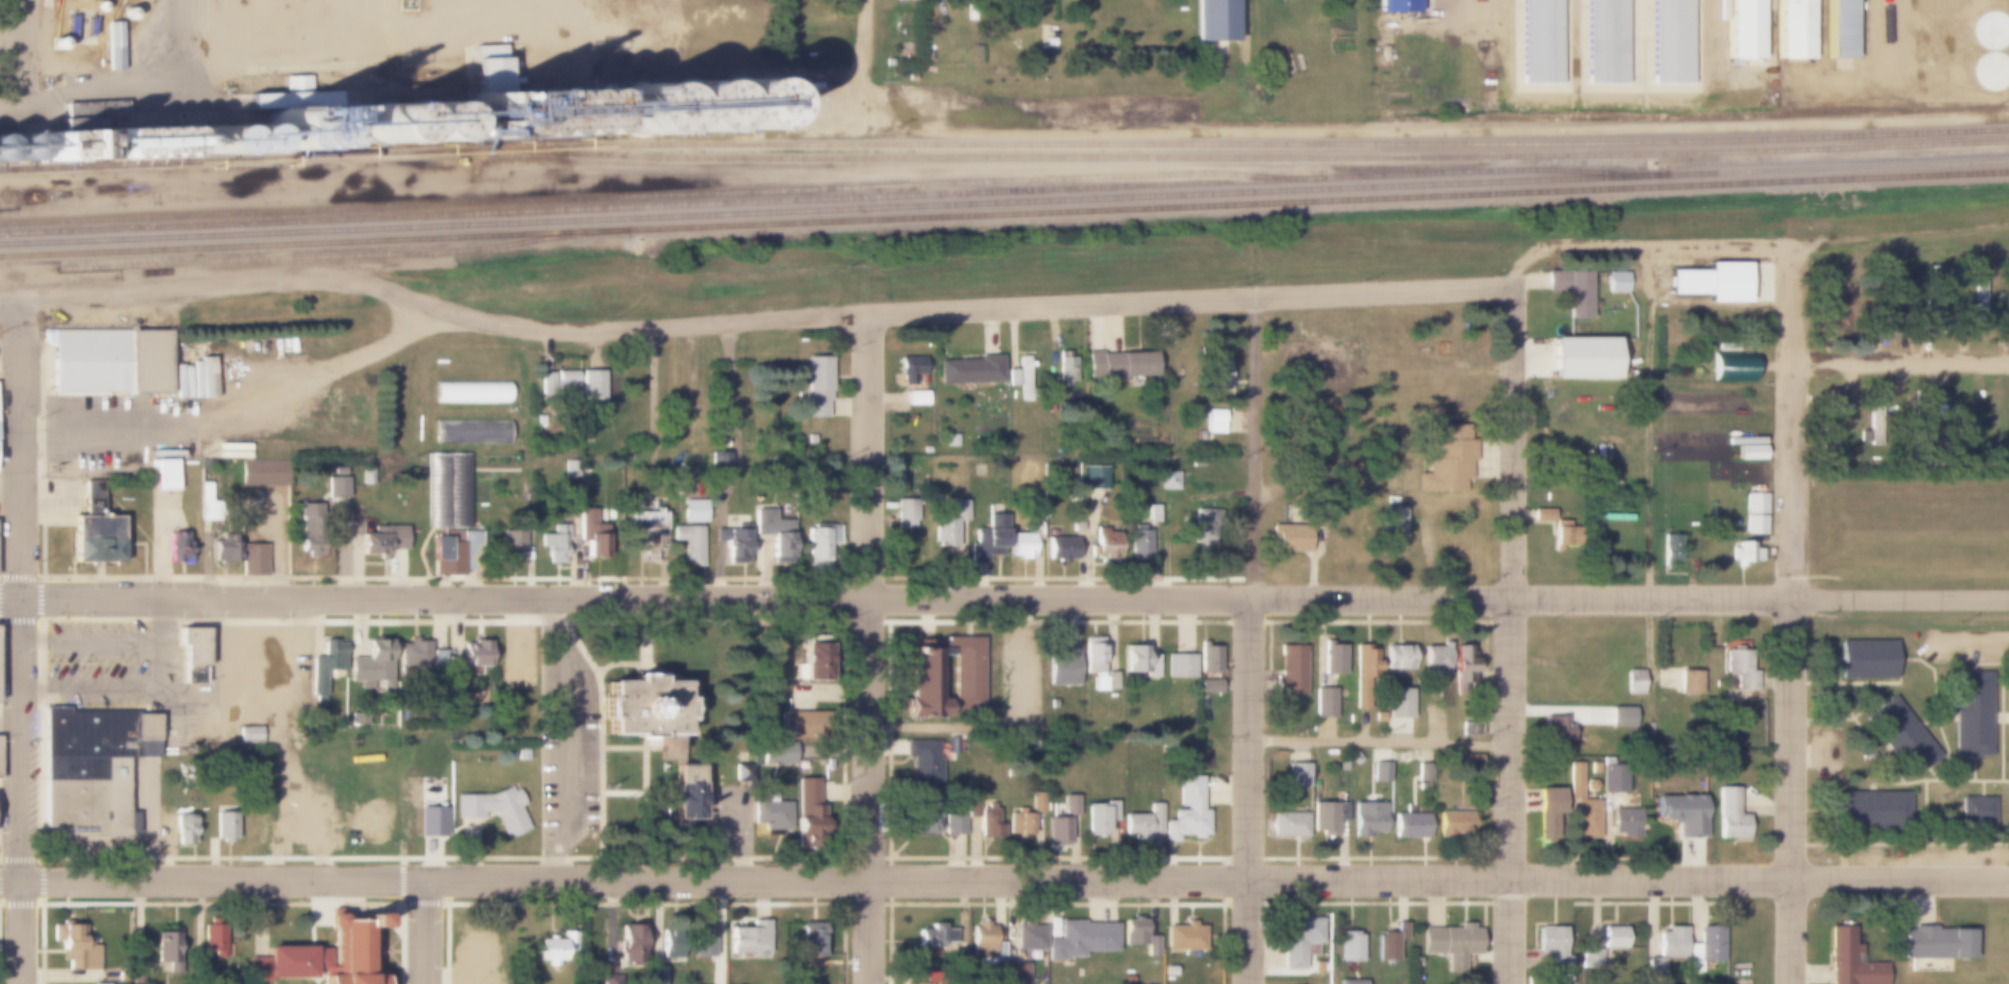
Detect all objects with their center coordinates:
building: (907, 0)
building: (98, 6)
silo: (98, 6)
building: (1396, 6)
building: (125, 14)
silo: (125, 14)
building: (1212, 21)
building: (1749, 29)
building: (1798, 29)
building: (1843, 29)
road: (866, 34)
road: (528, 38)
building: (1540, 41)
building: (1605, 41)
building: (1670, 41)
building: (54, 43)
silo: (54, 43)
road: (178, 43)
building: (782, 44)
road: (24, 46)
building: (112, 46)
building: (499, 51)
building: (483, 70)
road: (89, 90)
building: (289, 97)
building: (738, 104)
silo: (738, 104)
building: (688, 106)
silo: (688, 106)
building: (637, 107)
silo: (637, 107)
building: (545, 114)
silo: (545, 114)
building: (485, 115)
building: (421, 123)
silo: (421, 123)
building: (382, 124)
silo: (382, 124)
building: (300, 130)
silo: (300, 130)
building: (237, 140)
silo: (237, 140)
building: (46, 141)
silo: (46, 141)
building: (208, 141)
silo: (208, 141)
building: (331, 141)
silo: (331, 141)
building: (138, 144)
silo: (138, 144)
building: (76, 147)
building: (18, 149)
silo: (18, 149)
building: (0, 150)
silo: (0, 150)
railway: (1004, 151)
building: (46, 156)
silo: (46, 156)
railway: (1197, 159)
railway: (660, 196)
railway: (831, 200)
railway: (1004, 201)
railway: (1004, 215)
road: (1753, 247)
railway: (340, 255)
railway: (13, 275)
building: (1831, 281)
building: (1616, 282)
building: (1711, 283)
building: (1569, 289)
building: (1889, 295)
road: (1189, 300)
building: (1936, 301)
road: (2, 302)
road: (433, 307)
building: (1979, 308)
building: (1845, 309)
road: (1791, 310)
building: (2008, 314)
building: (1891, 318)
building: (1582, 358)
building: (109, 361)
road: (1900, 363)
building: (1118, 365)
building: (910, 368)
building: (1733, 368)
building: (969, 371)
building: (1065, 371)
road: (326, 372)
building: (1218, 374)
building: (1020, 377)
building: (546, 383)
building: (566, 383)
building: (816, 386)
building: (472, 393)
building: (916, 398)
building: (1469, 399)
building: (1830, 418)
building: (2006, 418)
building: (1876, 420)
building: (1919, 420)
building: (1214, 422)
road: (1650, 422)
road: (1241, 427)
building: (472, 431)
building: (1200, 435)
building: (811, 438)
road: (120, 441)
building: (951, 441)
building: (722, 442)
building: (1844, 447)
road: (1256, 448)
building: (927, 449)
building: (1750, 452)
building: (1446, 456)
building: (721, 462)
building: (571, 469)
building: (264, 472)
building: (165, 473)
building: (899, 477)
building: (1094, 477)
building: (1169, 480)
road: (1314, 482)
building: (337, 490)
building: (440, 491)
building: (461, 491)
building: (205, 496)
building: (940, 497)
building: (693, 511)
building: (905, 513)
building: (1153, 513)
building: (1755, 514)
building: (1542, 515)
building: (1393, 520)
building: (949, 526)
building: (1203, 526)
building: (310, 528)
building: (94, 529)
building: (1036, 531)
building: (651, 533)
building: (774, 533)
building: (591, 534)
building: (1565, 534)
building: (1291, 537)
building: (988, 538)
building: (382, 540)
building: (822, 541)
building: (1105, 541)
building: (1139, 542)
building: (555, 544)
building: (733, 544)
building: (1020, 545)
building: (512, 546)
building: (177, 547)
building: (689, 547)
building: (1671, 548)
building: (225, 549)
building: (1060, 549)
building: (455, 551)
building: (1745, 554)
road: (1316, 557)
building: (253, 559)
road: (1004, 599)
road: (1510, 636)
road: (1650, 637)
road: (21, 640)
road: (1967, 641)
road: (871, 648)
building: (414, 654)
building: (195, 655)
building: (472, 655)
parking lot: (110, 657)
building: (1397, 657)
building: (1333, 658)
building: (1684, 658)
building: (1208, 659)
building: (1365, 659)
building: (1436, 659)
building: (1462, 661)
building: (1866, 661)
building: (1140, 662)
building: (372, 663)
building: (812, 663)
building: (327, 664)
building: (1064, 666)
building: (1098, 666)
building: (1180, 666)
building: (511, 668)
building: (1742, 668)
building: (1290, 672)
road: (1790, 673)
building: (922, 677)
building: (1633, 681)
building: (1689, 682)
building: (1209, 686)
building: (1362, 696)
building: (1325, 702)
building: (1398, 703)
building: (453, 704)
building: (287, 707)
building: (649, 710)
building: (1970, 713)
building: (1378, 716)
building: (359, 718)
building: (1621, 719)
building: (800, 723)
building: (1469, 728)
building: (1553, 729)
building: (250, 735)
building: (1899, 738)
road: (1379, 739)
building: (777, 752)
building: (522, 755)
building: (1354, 758)
building: (923, 760)
building: (1470, 761)
building: (93, 768)
building: (1381, 771)
building: (1424, 773)
building: (1297, 774)
building: (0, 777)
building: (1613, 779)
building: (1591, 784)
building: (1424, 786)
building: (974, 791)
road: (1248, 791)
building: (691, 792)
building: (1038, 803)
building: (1071, 805)
building: (806, 806)
building: (1582, 806)
building: (972, 808)
building: (1975, 808)
building: (496, 809)
building: (1870, 809)
building: (1186, 812)
building: (1680, 812)
building: (1546, 814)
building: (1729, 814)
building: (769, 815)
building: (923, 815)
building: (431, 816)
building: (1326, 817)
building: (1367, 818)
building: (989, 821)
building: (1100, 821)
building: (1626, 822)
building: (1019, 823)
building: (187, 824)
building: (955, 824)
building: (1455, 824)
building: (377, 825)
building: (1142, 825)
building: (1288, 825)
building: (1410, 825)
building: (225, 827)
building: (1056, 831)
road: (1004, 878)
road: (428, 931)
building: (703, 934)
building: (1028, 935)
building: (1613, 935)
building: (1139, 936)
building: (935, 937)
building: (810, 939)
building: (1184, 939)
building: (213, 940)
building: (1079, 940)
building: (1300, 940)
building: (750, 941)
building: (1452, 941)
building: (670, 943)
building: (1709, 943)
building: (1934, 943)
building: (629, 944)
building: (983, 945)
building: (1350, 945)
building: (1392, 945)
building: (75, 947)
building: (555, 948)
building: (1552, 949)
building: (167, 950)
building: (1666, 951)
building: (326, 956)
building: (1591, 958)
building: (1849, 960)
building: (1169, 971)
building: (124, 972)
building: (137, 973)
building: (1017, 973)
building: (658, 975)
building: (929, 976)
building: (612, 980)
building: (1351, 982)
building: (918, 983)

